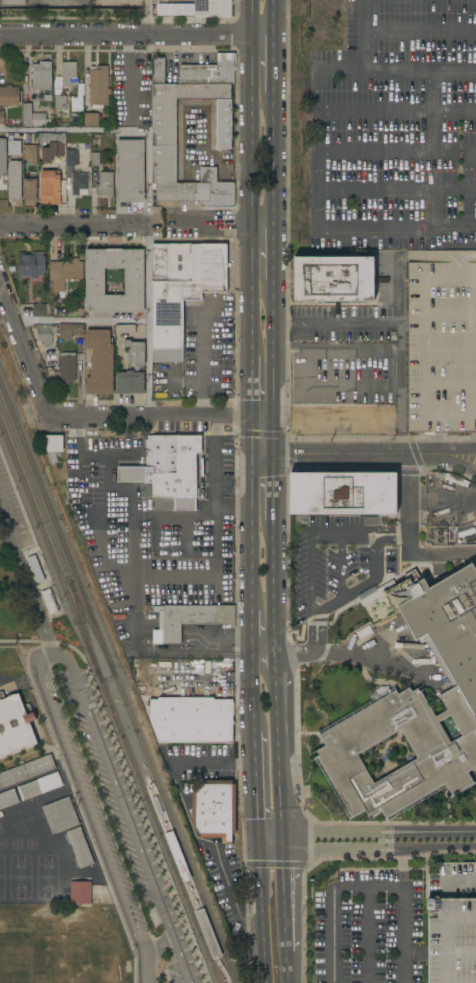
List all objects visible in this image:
building: (13, 2)
power substation: (71, 5)
building: (212, 8)
road: (272, 18)
road: (420, 32)
road: (136, 34)
road: (365, 35)
road: (56, 60)
road: (272, 64)
building: (158, 70)
road: (86, 71)
building: (210, 71)
building: (69, 74)
building: (41, 75)
building: (142, 76)
building: (127, 80)
building: (98, 86)
building: (8, 95)
building: (48, 98)
building: (60, 101)
road: (320, 109)
road: (397, 111)
building: (31, 116)
building: (135, 116)
building: (2, 117)
building: (91, 119)
building: (61, 122)
parking lot: (396, 128)
building: (164, 132)
building: (14, 147)
building: (53, 147)
road: (247, 152)
building: (30, 154)
building: (3, 157)
building: (71, 157)
road: (272, 159)
building: (95, 160)
road: (201, 160)
building: (130, 171)
building: (15, 179)
building: (79, 183)
building: (105, 184)
building: (50, 186)
road: (466, 186)
road: (397, 188)
building: (29, 191)
road: (77, 224)
road: (453, 225)
road: (221, 226)
road: (414, 226)
road: (273, 252)
road: (456, 261)
building: (30, 264)
building: (64, 273)
building: (334, 279)
building: (95, 281)
building: (182, 290)
building: (59, 308)
building: (38, 310)
road: (397, 316)
road: (81, 320)
road: (148, 321)
road: (335, 326)
building: (125, 329)
road: (247, 329)
building: (59, 331)
road: (202, 341)
building: (442, 347)
parking lot: (442, 347)
road: (273, 348)
road: (25, 349)
parking lot: (208, 349)
parking lot: (347, 356)
building: (100, 362)
building: (66, 368)
building: (132, 370)
road: (308, 371)
road: (248, 386)
road: (162, 418)
traffic signals: (249, 418)
traffic signals: (274, 418)
road: (274, 436)
building: (53, 446)
road: (350, 454)
road: (464, 454)
traffic signals: (250, 455)
traffic signals: (274, 455)
building: (72, 464)
road: (463, 464)
building: (168, 468)
building: (456, 479)
railway: (40, 488)
road: (274, 491)
building: (343, 493)
railway: (35, 494)
railway: (33, 510)
parking lot: (15, 512)
road: (250, 513)
road: (382, 529)
building: (440, 536)
road: (408, 538)
road: (392, 541)
parking lot: (333, 562)
road: (341, 566)
building: (35, 568)
park: (26, 572)
road: (28, 579)
road: (275, 591)
building: (49, 601)
road: (312, 610)
building: (192, 619)
railway: (92, 629)
railway: (85, 632)
road: (253, 633)
road: (25, 640)
road: (54, 644)
building: (398, 646)
building: (413, 646)
road: (259, 656)
road: (371, 660)
road: (278, 661)
road: (278, 679)
road: (295, 684)
road: (254, 691)
road: (236, 700)
building: (190, 707)
building: (415, 708)
road: (279, 717)
building: (14, 725)
building: (39, 765)
building: (12, 776)
road: (256, 783)
building: (39, 786)
railway: (157, 787)
railway: (142, 789)
road: (282, 790)
building: (8, 798)
road: (84, 800)
building: (214, 809)
building: (60, 815)
road: (127, 815)
road: (186, 819)
parking lot: (113, 827)
road: (380, 832)
road: (272, 839)
traffic signals: (285, 839)
traffic signals: (259, 840)
road: (439, 846)
building: (80, 847)
road: (342, 851)
road: (21, 864)
road: (276, 864)
road: (403, 867)
road: (452, 881)
building: (80, 892)
road: (287, 898)
road: (334, 899)
road: (263, 911)
road: (448, 922)
building: (452, 924)
parking lot: (452, 924)
parking lot: (370, 928)
building: (206, 931)
road: (402, 933)
road: (367, 934)
road: (157, 944)
road: (448, 955)
railway: (220, 956)
road: (144, 967)
road: (222, 970)
road: (289, 970)

